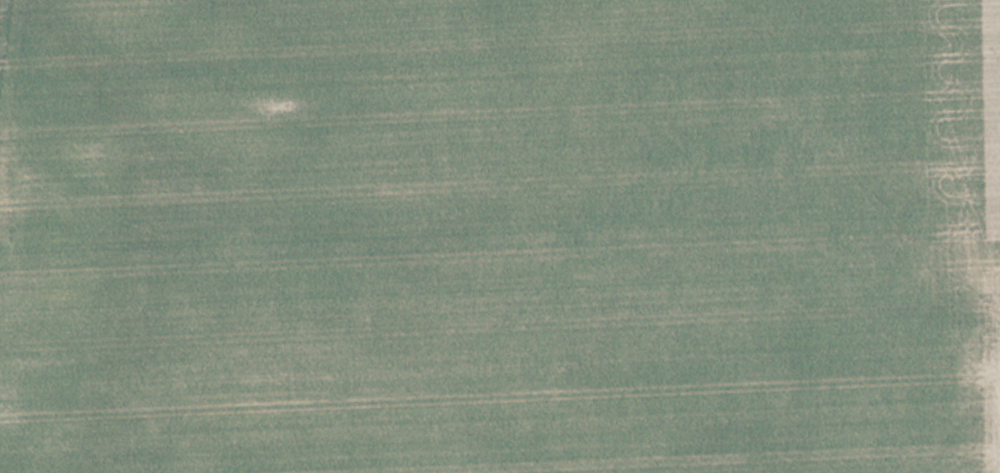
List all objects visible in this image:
road: (835, 98)

